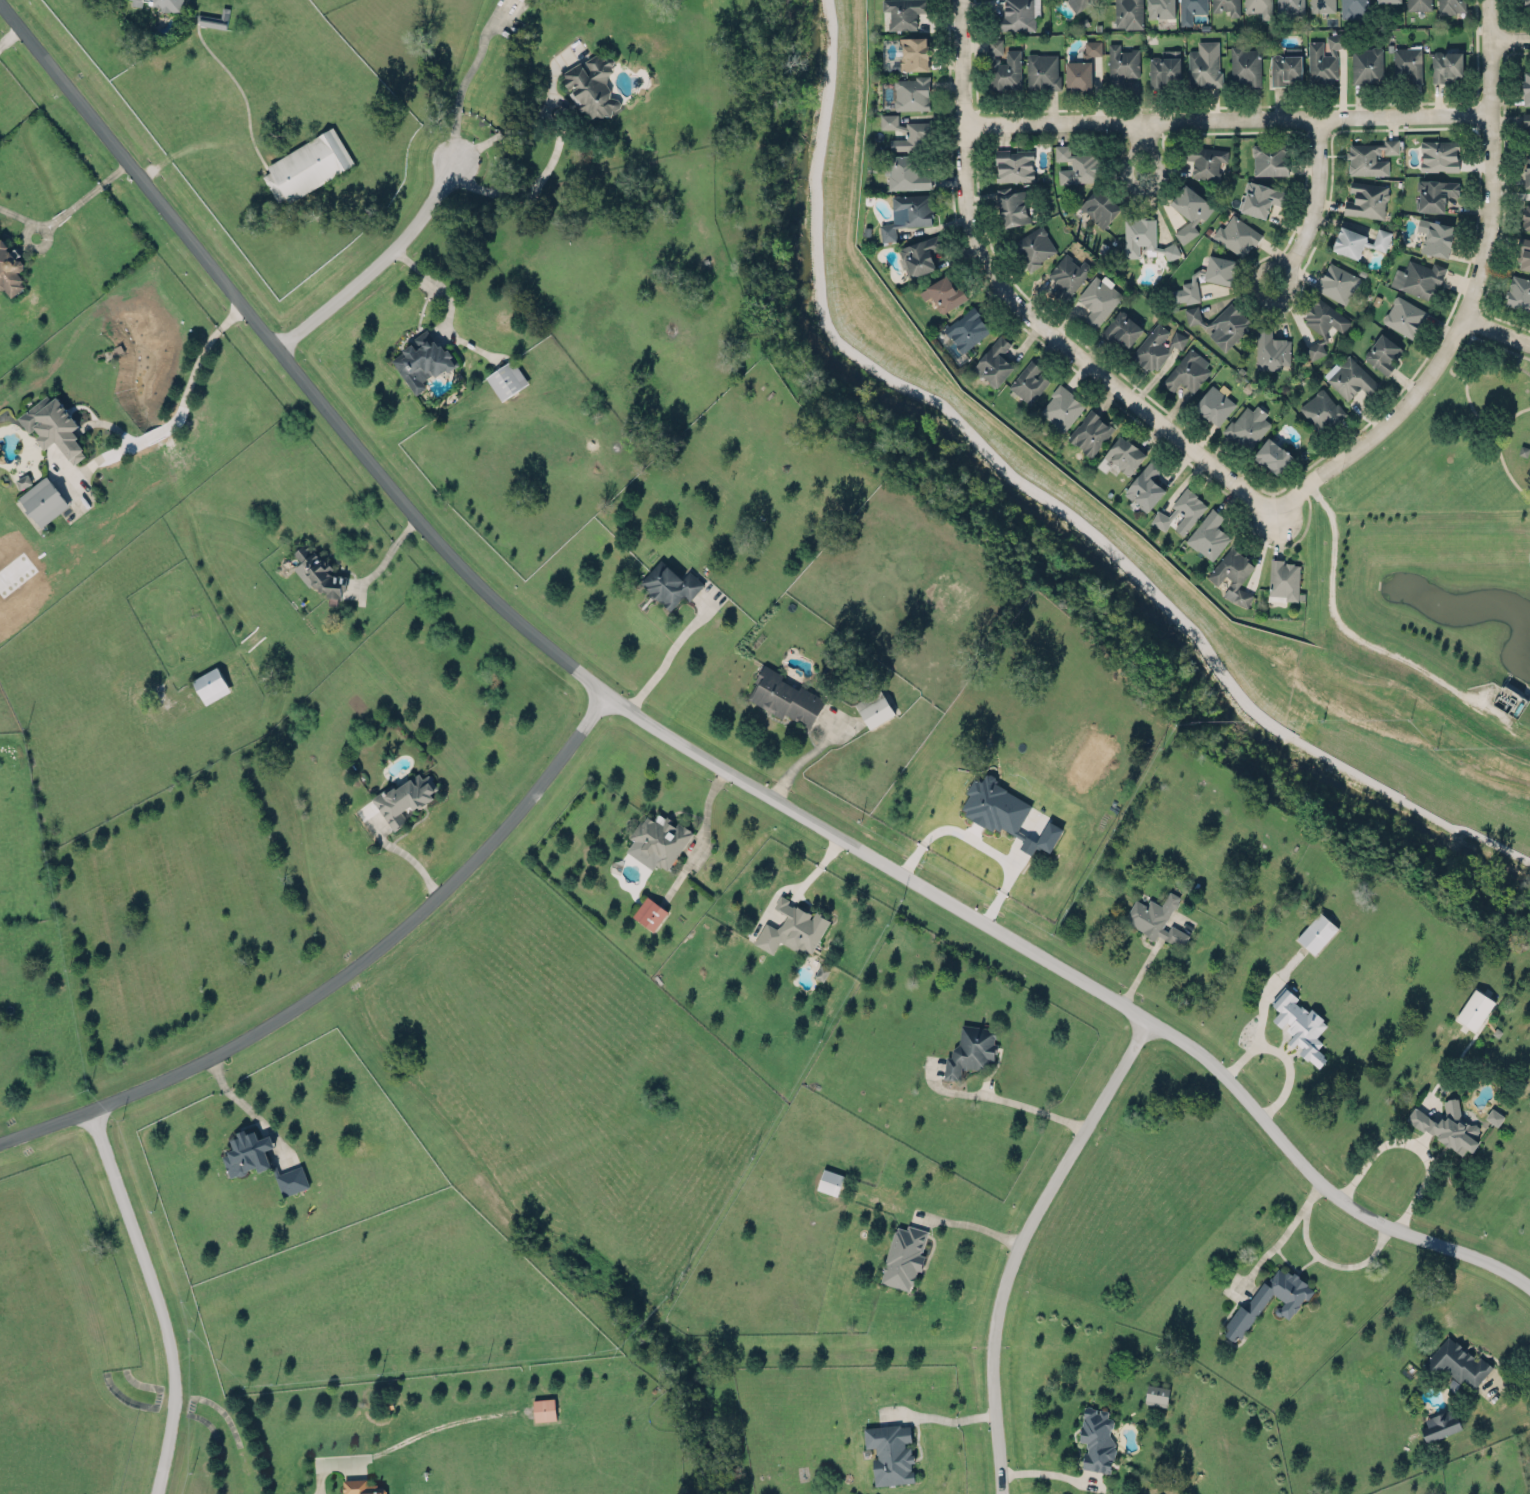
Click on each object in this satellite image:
building: (527, 0)
building: (1387, 0)
building: (1077, 3)
building: (1525, 3)
building: (1418, 4)
building: (1321, 5)
building: (1450, 5)
building: (1226, 6)
building: (1259, 7)
building: (1289, 7)
building: (1354, 7)
building: (1161, 8)
building: (1191, 9)
building: (903, 12)
building: (1128, 13)
building: (1016, 15)
building: (213, 18)
road: (8, 35)
road: (1510, 39)
building: (994, 45)
building: (913, 52)
building: (1122, 60)
building: (1323, 60)
building: (1408, 61)
building: (1366, 64)
building: (1081, 65)
building: (1244, 65)
building: (1446, 65)
building: (1285, 66)
building: (1164, 67)
building: (1203, 67)
building: (1042, 69)
building: (1005, 70)
road: (465, 76)
road: (552, 77)
building: (591, 84)
building: (1526, 87)
building: (911, 92)
road: (1225, 115)
building: (1526, 124)
building: (907, 132)
road: (1141, 134)
road: (556, 143)
building: (1438, 154)
building: (1370, 155)
building: (1269, 157)
road: (1153, 158)
building: (1204, 158)
building: (1014, 164)
building: (1077, 164)
building: (307, 165)
building: (1527, 169)
building: (906, 171)
road: (95, 185)
road: (1313, 193)
building: (1435, 193)
building: (1260, 198)
building: (1366, 199)
building: (1012, 204)
building: (1099, 206)
building: (1189, 209)
building: (907, 211)
road: (17, 214)
road: (60, 214)
building: (1526, 215)
building: (1435, 234)
building: (1236, 235)
building: (1143, 237)
road: (25, 239)
building: (1358, 240)
building: (1033, 246)
building: (1524, 249)
building: (919, 253)
road: (373, 261)
building: (9, 266)
building: (1219, 268)
road: (1259, 268)
building: (1068, 274)
road: (432, 277)
building: (1418, 277)
building: (1337, 280)
building: (944, 291)
building: (1185, 292)
building: (1518, 292)
building: (1098, 298)
road: (1475, 298)
road: (1025, 307)
building: (1192, 314)
building: (1404, 315)
building: (1322, 323)
building: (1228, 325)
building: (966, 328)
building: (1122, 328)
road: (1500, 329)
building: (1177, 338)
building: (1152, 347)
building: (1271, 347)
building: (1382, 353)
building: (422, 358)
road: (193, 360)
building: (994, 360)
building: (1187, 370)
building: (1350, 377)
building: (506, 378)
building: (1028, 381)
building: (1216, 402)
building: (1061, 407)
building: (1321, 409)
building: (52, 425)
building: (1247, 425)
road: (153, 432)
building: (1090, 432)
road: (128, 438)
building: (1273, 452)
building: (1122, 453)
building: (23, 480)
building: (1147, 484)
building: (43, 500)
building: (1181, 510)
building: (1208, 534)
road: (385, 554)
building: (318, 569)
building: (1231, 573)
building: (1284, 579)
building: (669, 584)
road: (666, 655)
building: (210, 684)
building: (786, 696)
building: (873, 707)
road: (686, 744)
road: (801, 758)
building: (404, 796)
building: (1004, 810)
building: (660, 836)
road: (978, 842)
road: (405, 855)
building: (649, 912)
building: (1154, 916)
building: (792, 926)
building: (1316, 932)
road: (342, 972)
building: (1474, 1008)
building: (1299, 1023)
building: (971, 1048)
road: (1282, 1054)
road: (244, 1104)
road: (1036, 1108)
building: (1493, 1115)
building: (1447, 1125)
road: (1412, 1145)
building: (247, 1151)
building: (291, 1177)
building: (829, 1181)
road: (969, 1223)
road: (1280, 1236)
road: (1019, 1243)
building: (903, 1255)
road: (1332, 1262)
road: (152, 1298)
building: (1290, 1301)
building: (1456, 1362)
road: (1507, 1383)
building: (1156, 1394)
building: (543, 1408)
road: (941, 1417)
building: (1440, 1424)
building: (1096, 1438)
building: (889, 1451)
road: (1046, 1472)
building: (361, 1487)

